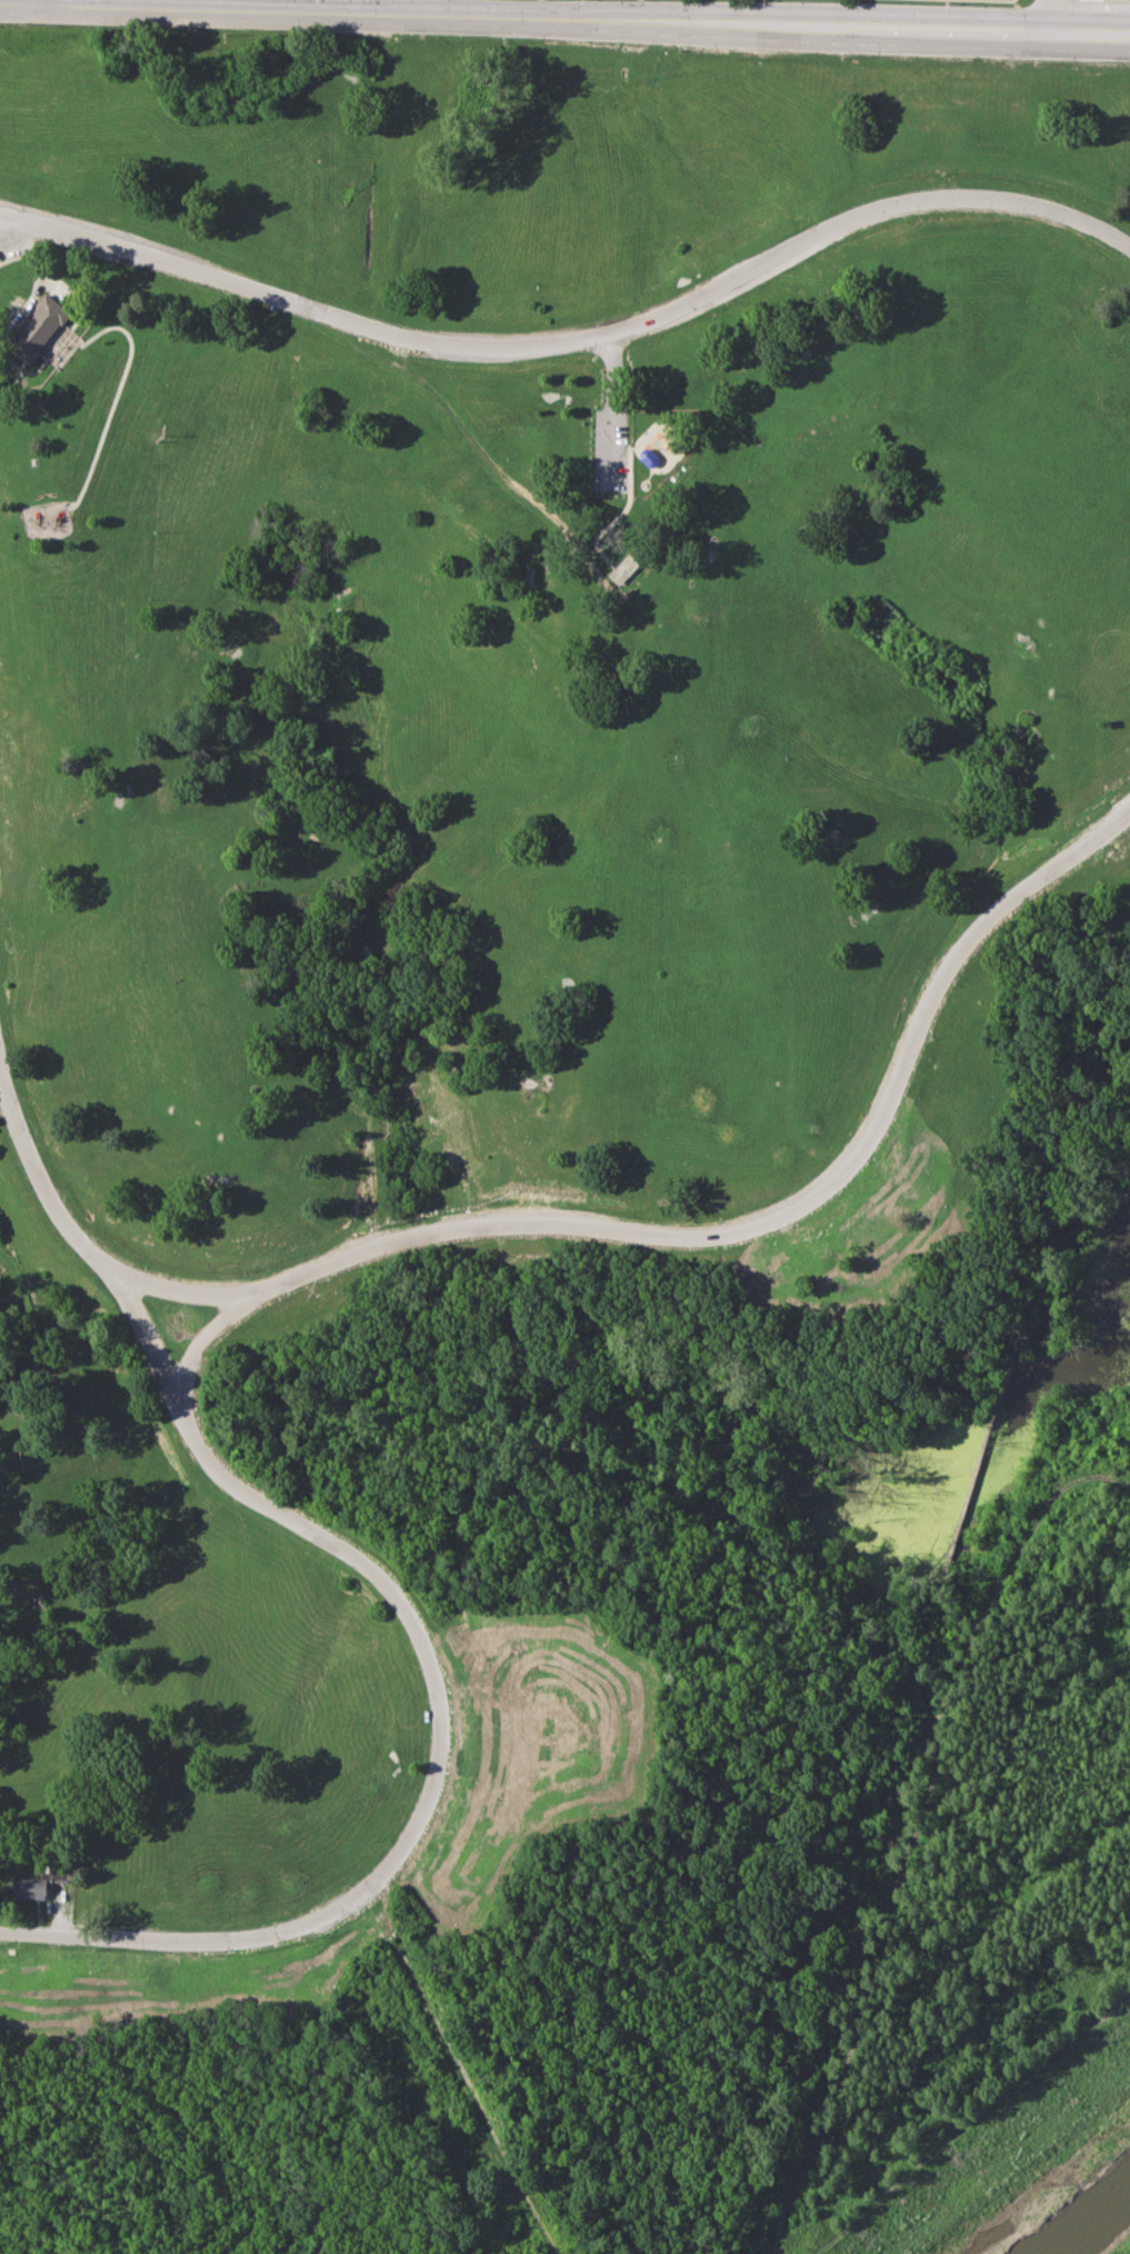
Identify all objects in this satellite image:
road: (40, 1)
road: (20, 2)
street lamp: (946, 2)
road: (1051, 13)
road: (584, 16)
street lamp: (502, 41)
street lamp: (678, 49)
street lamp: (841, 57)
street lamp: (1033, 63)
road: (13, 225)
building: (38, 326)
road: (117, 326)
road: (574, 339)
road: (607, 413)
road: (626, 506)
building: (624, 569)
park: (564, 1140)
road: (722, 1238)
road: (198, 1340)
road: (256, 1496)
building: (39, 1882)
road: (187, 1944)
road: (462, 2075)
river: (1096, 2227)

